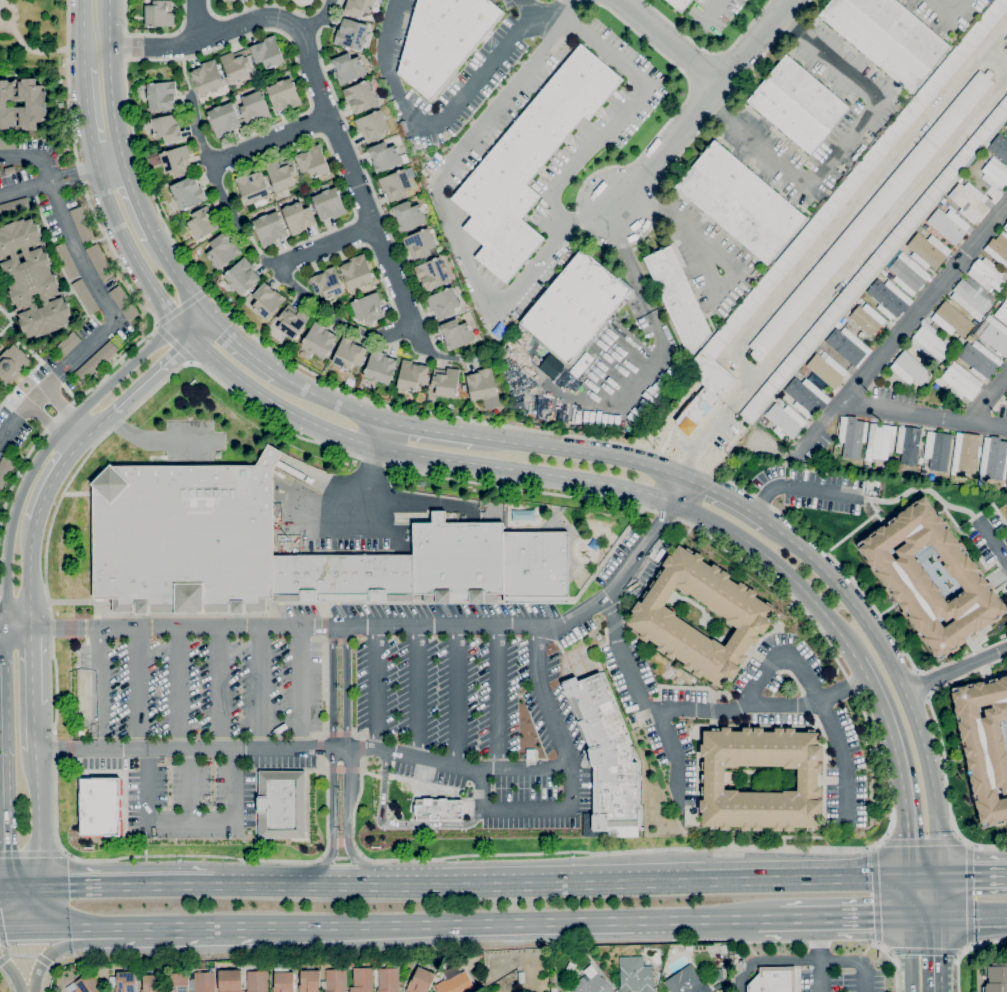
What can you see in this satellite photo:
building: (227, 0)
road: (0, 4)
building: (679, 4)
road: (940, 5)
building: (358, 7)
road: (713, 7)
road: (13, 8)
building: (158, 14)
road: (541, 16)
road: (319, 19)
road: (196, 20)
road: (67, 21)
building: (904, 29)
road: (151, 31)
road: (80, 34)
building: (351, 34)
park: (33, 35)
road: (996, 36)
building: (1006, 39)
building: (443, 40)
road: (669, 41)
road: (133, 42)
road: (28, 43)
building: (875, 43)
building: (1006, 48)
road: (709, 51)
building: (267, 52)
building: (236, 65)
building: (348, 68)
building: (207, 77)
road: (111, 78)
building: (807, 92)
building: (284, 94)
building: (161, 95)
road: (323, 96)
building: (361, 96)
road: (702, 102)
building: (22, 103)
building: (254, 107)
road: (443, 110)
road: (488, 116)
building: (788, 116)
road: (88, 118)
building: (223, 119)
building: (372, 125)
building: (1006, 125)
building: (167, 127)
road: (270, 141)
building: (7, 143)
road: (842, 146)
building: (999, 147)
building: (384, 156)
building: (176, 160)
building: (312, 161)
road: (109, 162)
building: (529, 162)
road: (211, 165)
building: (10, 170)
building: (995, 173)
building: (281, 176)
building: (856, 178)
road: (49, 183)
building: (395, 185)
building: (252, 187)
building: (750, 191)
building: (187, 193)
road: (134, 197)
building: (943, 200)
building: (969, 201)
building: (328, 204)
building: (940, 204)
road: (853, 206)
building: (14, 207)
building: (730, 214)
building: (870, 215)
building: (409, 216)
building: (298, 217)
building: (1006, 221)
building: (202, 223)
building: (82, 224)
building: (948, 225)
building: (1005, 227)
building: (269, 228)
road: (583, 229)
building: (919, 229)
building: (420, 243)
building: (903, 248)
building: (998, 249)
building: (222, 250)
building: (928, 250)
road: (710, 253)
road: (306, 256)
building: (66, 260)
building: (99, 261)
building: (876, 262)
building: (356, 272)
building: (432, 273)
building: (987, 274)
building: (907, 275)
building: (242, 276)
road: (842, 277)
road: (180, 278)
building: (32, 279)
road: (92, 280)
building: (327, 283)
building: (862, 295)
building: (995, 295)
building: (85, 296)
building: (970, 296)
building: (1003, 297)
building: (678, 298)
building: (889, 298)
building: (267, 300)
building: (123, 302)
building: (443, 303)
building: (575, 306)
road: (146, 308)
building: (368, 308)
building: (1002, 313)
building: (626, 316)
building: (867, 319)
building: (951, 319)
building: (292, 320)
building: (838, 324)
road: (903, 328)
road: (201, 329)
building: (457, 334)
road: (374, 335)
building: (994, 335)
building: (971, 338)
building: (319, 339)
building: (961, 340)
building: (68, 343)
building: (931, 343)
road: (171, 346)
road: (244, 346)
building: (848, 346)
building: (348, 354)
building: (99, 357)
building: (980, 359)
building: (12, 364)
road: (654, 366)
building: (380, 367)
building: (827, 370)
building: (910, 370)
road: (153, 375)
building: (411, 375)
building: (961, 382)
building: (446, 383)
building: (483, 387)
building: (704, 391)
building: (807, 397)
road: (987, 399)
road: (329, 402)
road: (66, 410)
road: (923, 416)
building: (786, 419)
road: (99, 422)
road: (50, 424)
road: (12, 425)
road: (428, 429)
road: (568, 435)
building: (851, 436)
road: (54, 438)
road: (154, 440)
building: (881, 440)
building: (908, 444)
building: (936, 450)
road: (578, 452)
building: (965, 453)
building: (994, 458)
road: (442, 459)
building: (868, 461)
road: (371, 463)
building: (5, 470)
road: (55, 474)
road: (490, 484)
road: (799, 489)
road: (920, 489)
road: (726, 497)
road: (875, 511)
building: (183, 526)
road: (851, 533)
road: (993, 540)
road: (972, 547)
road: (30, 572)
building: (906, 579)
road: (1001, 589)
road: (23, 595)
road: (355, 601)
building: (653, 616)
road: (325, 620)
road: (235, 621)
road: (2, 623)
road: (18, 624)
road: (393, 626)
road: (4, 636)
road: (621, 654)
road: (961, 658)
road: (32, 665)
road: (955, 669)
road: (262, 688)
road: (301, 688)
road: (375, 688)
road: (100, 689)
road: (139, 689)
road: (180, 689)
road: (222, 689)
road: (325, 690)
road: (417, 692)
road: (905, 695)
road: (458, 696)
road: (497, 697)
road: (544, 699)
road: (819, 702)
road: (761, 708)
parking lot: (310, 715)
road: (34, 729)
road: (338, 735)
road: (356, 735)
road: (318, 737)
road: (361, 737)
building: (984, 745)
road: (671, 747)
road: (318, 748)
road: (361, 748)
road: (190, 751)
building: (605, 754)
road: (332, 757)
road: (346, 758)
road: (319, 762)
road: (899, 765)
road: (457, 766)
road: (257, 769)
road: (341, 769)
road: (6, 770)
road: (368, 772)
road: (36, 774)
road: (383, 776)
building: (713, 779)
road: (423, 784)
road: (190, 788)
building: (281, 804)
building: (100, 806)
building: (438, 809)
road: (528, 817)
road: (396, 824)
road: (191, 826)
road: (959, 838)
road: (885, 840)
road: (38, 842)
road: (922, 842)
road: (971, 846)
road: (873, 848)
road: (64, 853)
road: (31, 854)
road: (326, 858)
road: (340, 858)
road: (356, 858)
road: (973, 876)
road: (924, 877)
traffic signals: (940, 877)
road: (674, 878)
traffic signals: (909, 878)
road: (291, 882)
road: (405, 882)
road: (127, 885)
road: (24, 889)
traffic signals: (40, 889)
road: (4, 890)
traffic signals: (9, 890)
road: (970, 894)
road: (875, 895)
road: (40, 906)
road: (10, 907)
road: (973, 913)
road: (925, 915)
traffic signals: (940, 915)
traffic signals: (910, 916)
road: (844, 917)
road: (768, 918)
road: (512, 922)
road: (5, 924)
traffic signals: (11, 924)
road: (25, 924)
traffic signals: (40, 924)
road: (70, 925)
road: (184, 927)
road: (910, 934)
road: (2, 940)
road: (738, 940)
road: (877, 943)
road: (971, 944)
building: (723, 948)
road: (55, 949)
road: (863, 951)
road: (925, 951)
road: (965, 951)
road: (890, 952)
road: (940, 953)
road: (960, 953)
road: (24, 955)
road: (819, 955)
building: (723, 959)
road: (769, 960)
road: (856, 960)
road: (894, 962)
road: (53, 966)
road: (15, 971)
road: (54, 971)
building: (636, 975)
building: (521, 977)
building: (996, 978)
parking lot: (842, 979)
road: (6, 980)
building: (229, 980)
building: (283, 980)
building: (334, 980)
building: (362, 980)
building: (388, 980)
building: (773, 980)
building: (257, 981)
building: (310, 981)
building: (421, 981)
building: (454, 981)
building: (126, 982)
building: (178, 982)
building: (202, 982)
building: (591, 982)
building: (687, 982)
building: (152, 983)
building: (87, 984)
building: (553, 990)

